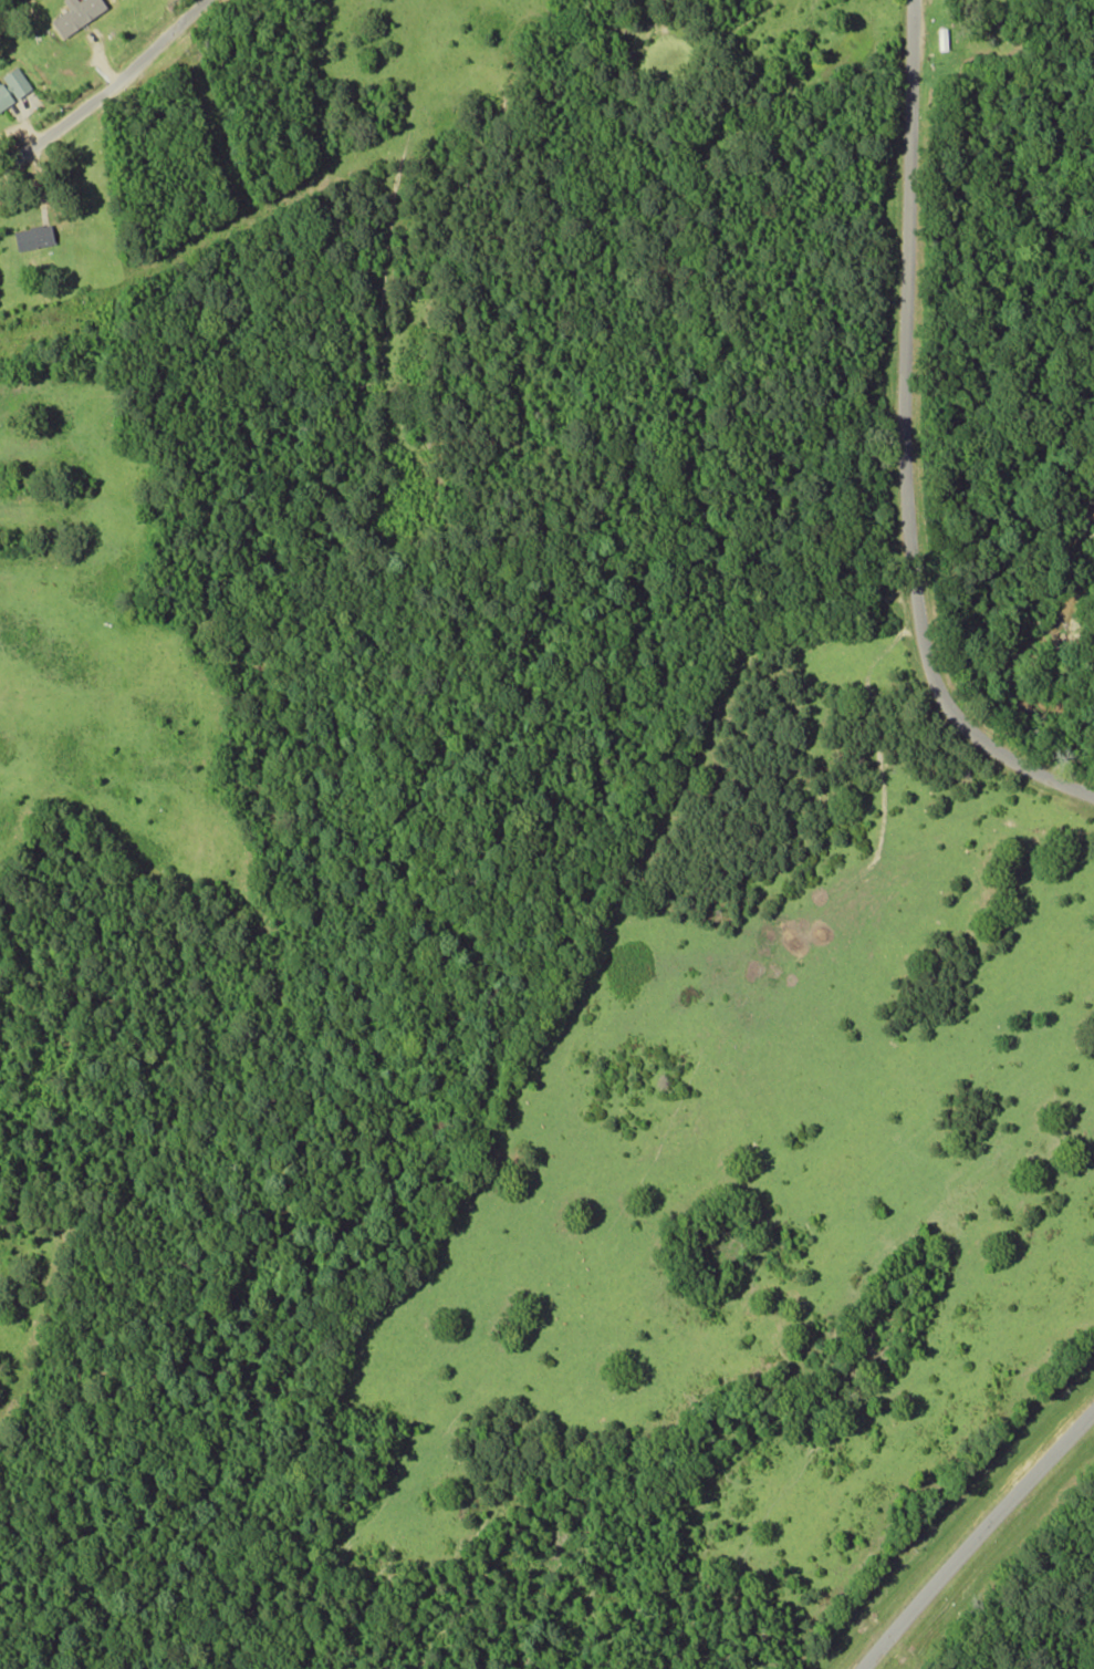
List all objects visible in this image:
building: (73, 14)
building: (11, 85)
road: (104, 87)
building: (30, 236)
road: (906, 444)
road: (976, 1538)

